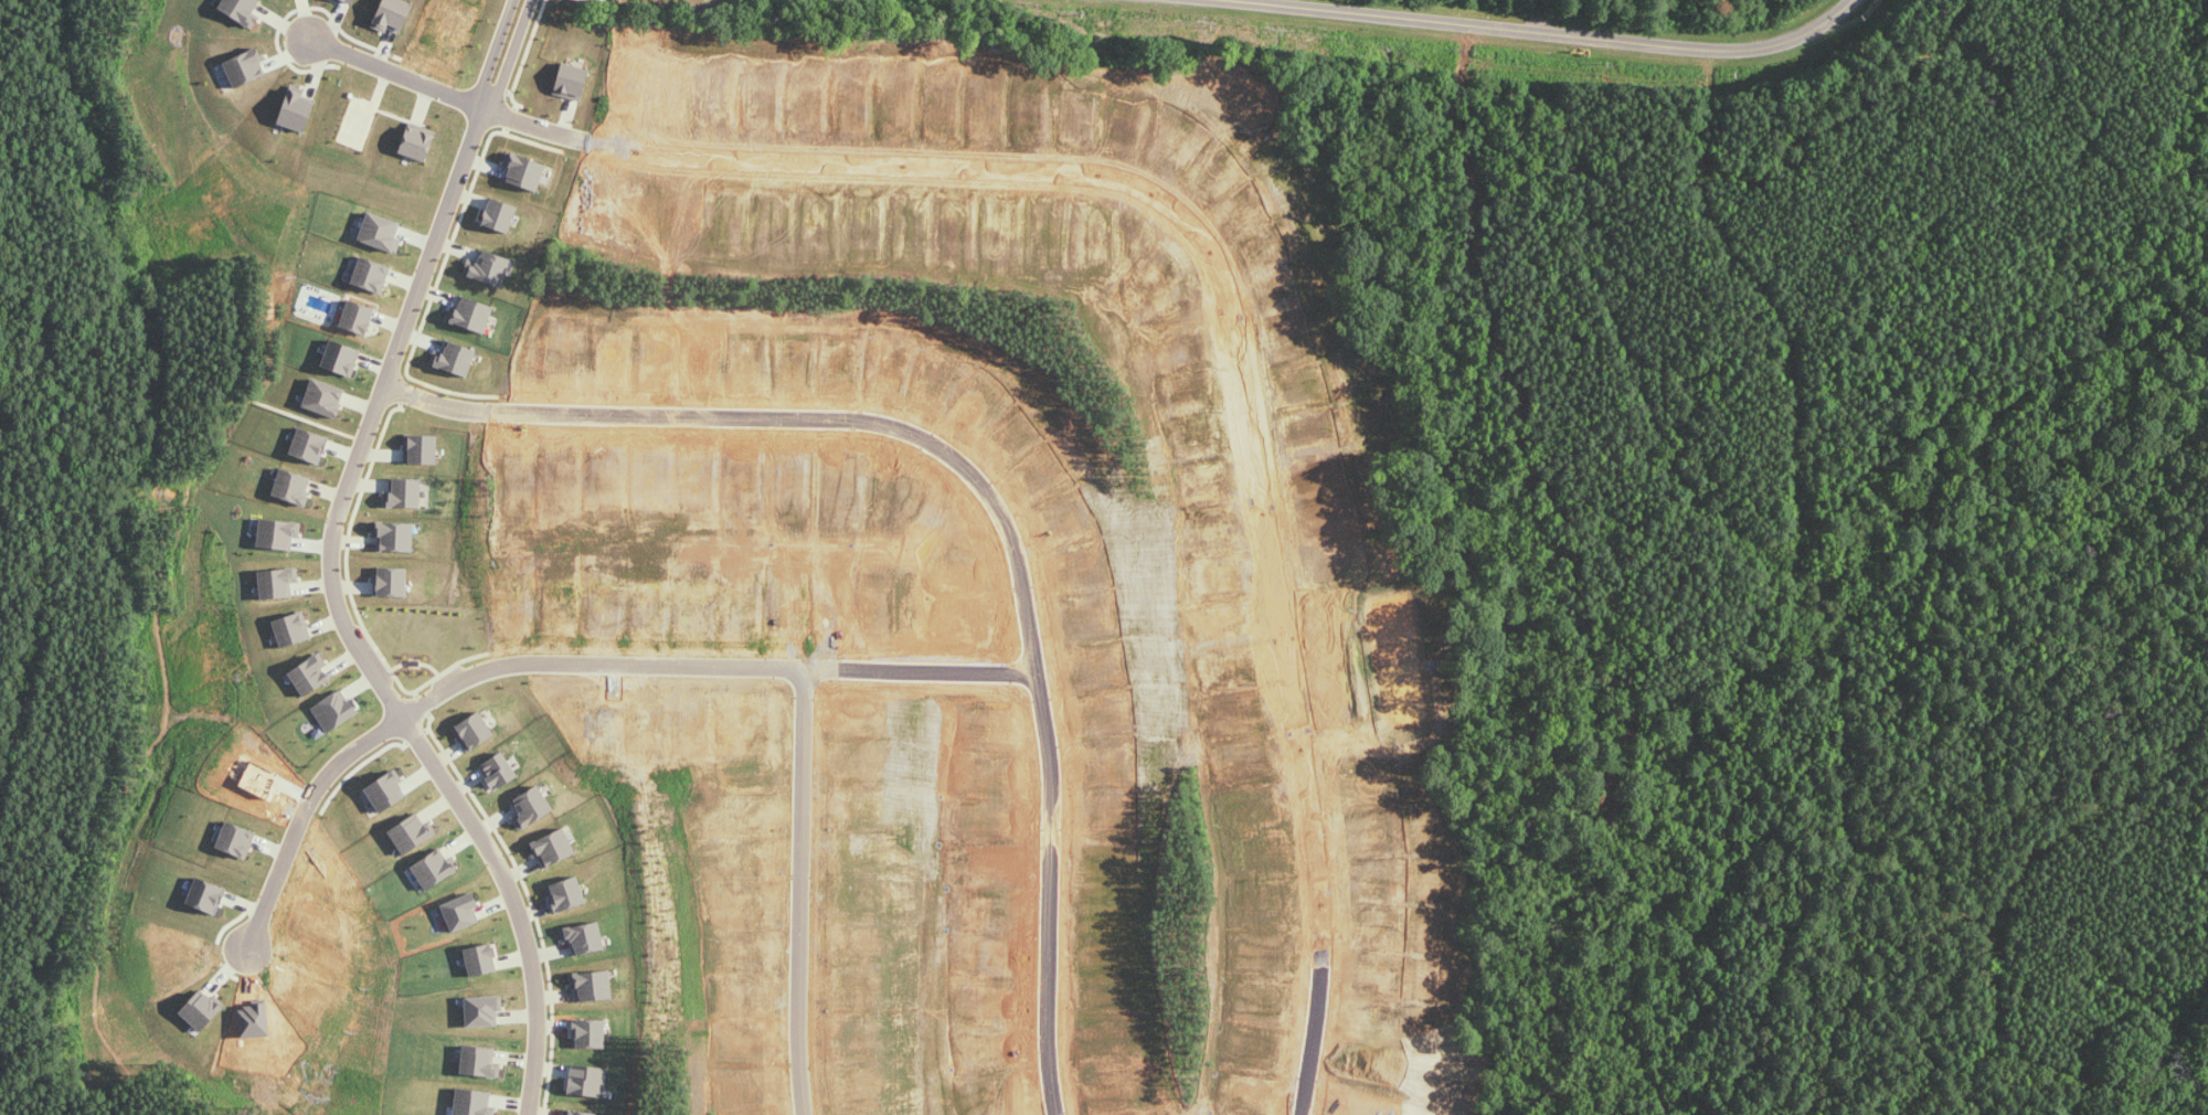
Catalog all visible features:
building: (351, 0)
building: (240, 8)
road: (1489, 30)
road: (506, 55)
building: (245, 68)
road: (399, 75)
building: (572, 82)
building: (297, 107)
road: (532, 126)
building: (418, 141)
building: (523, 171)
building: (500, 215)
building: (381, 232)
building: (489, 268)
building: (372, 275)
building: (471, 315)
building: (358, 317)
building: (342, 358)
building: (455, 359)
building: (325, 397)
building: (310, 445)
building: (422, 449)
building: (293, 487)
building: (404, 493)
road: (989, 495)
building: (279, 533)
building: (395, 537)
building: (392, 581)
building: (278, 583)
road: (359, 623)
building: (293, 629)
road: (687, 656)
road: (925, 673)
building: (311, 676)
building: (330, 707)
building: (474, 731)
building: (389, 789)
building: (532, 809)
building: (413, 835)
building: (553, 848)
building: (434, 870)
building: (567, 894)
building: (205, 895)
building: (461, 912)
building: (584, 938)
building: (482, 959)
building: (593, 985)
building: (201, 1010)
building: (484, 1011)
building: (591, 1033)
road: (1313, 1045)
building: (479, 1062)
building: (588, 1081)
building: (576, 1113)

